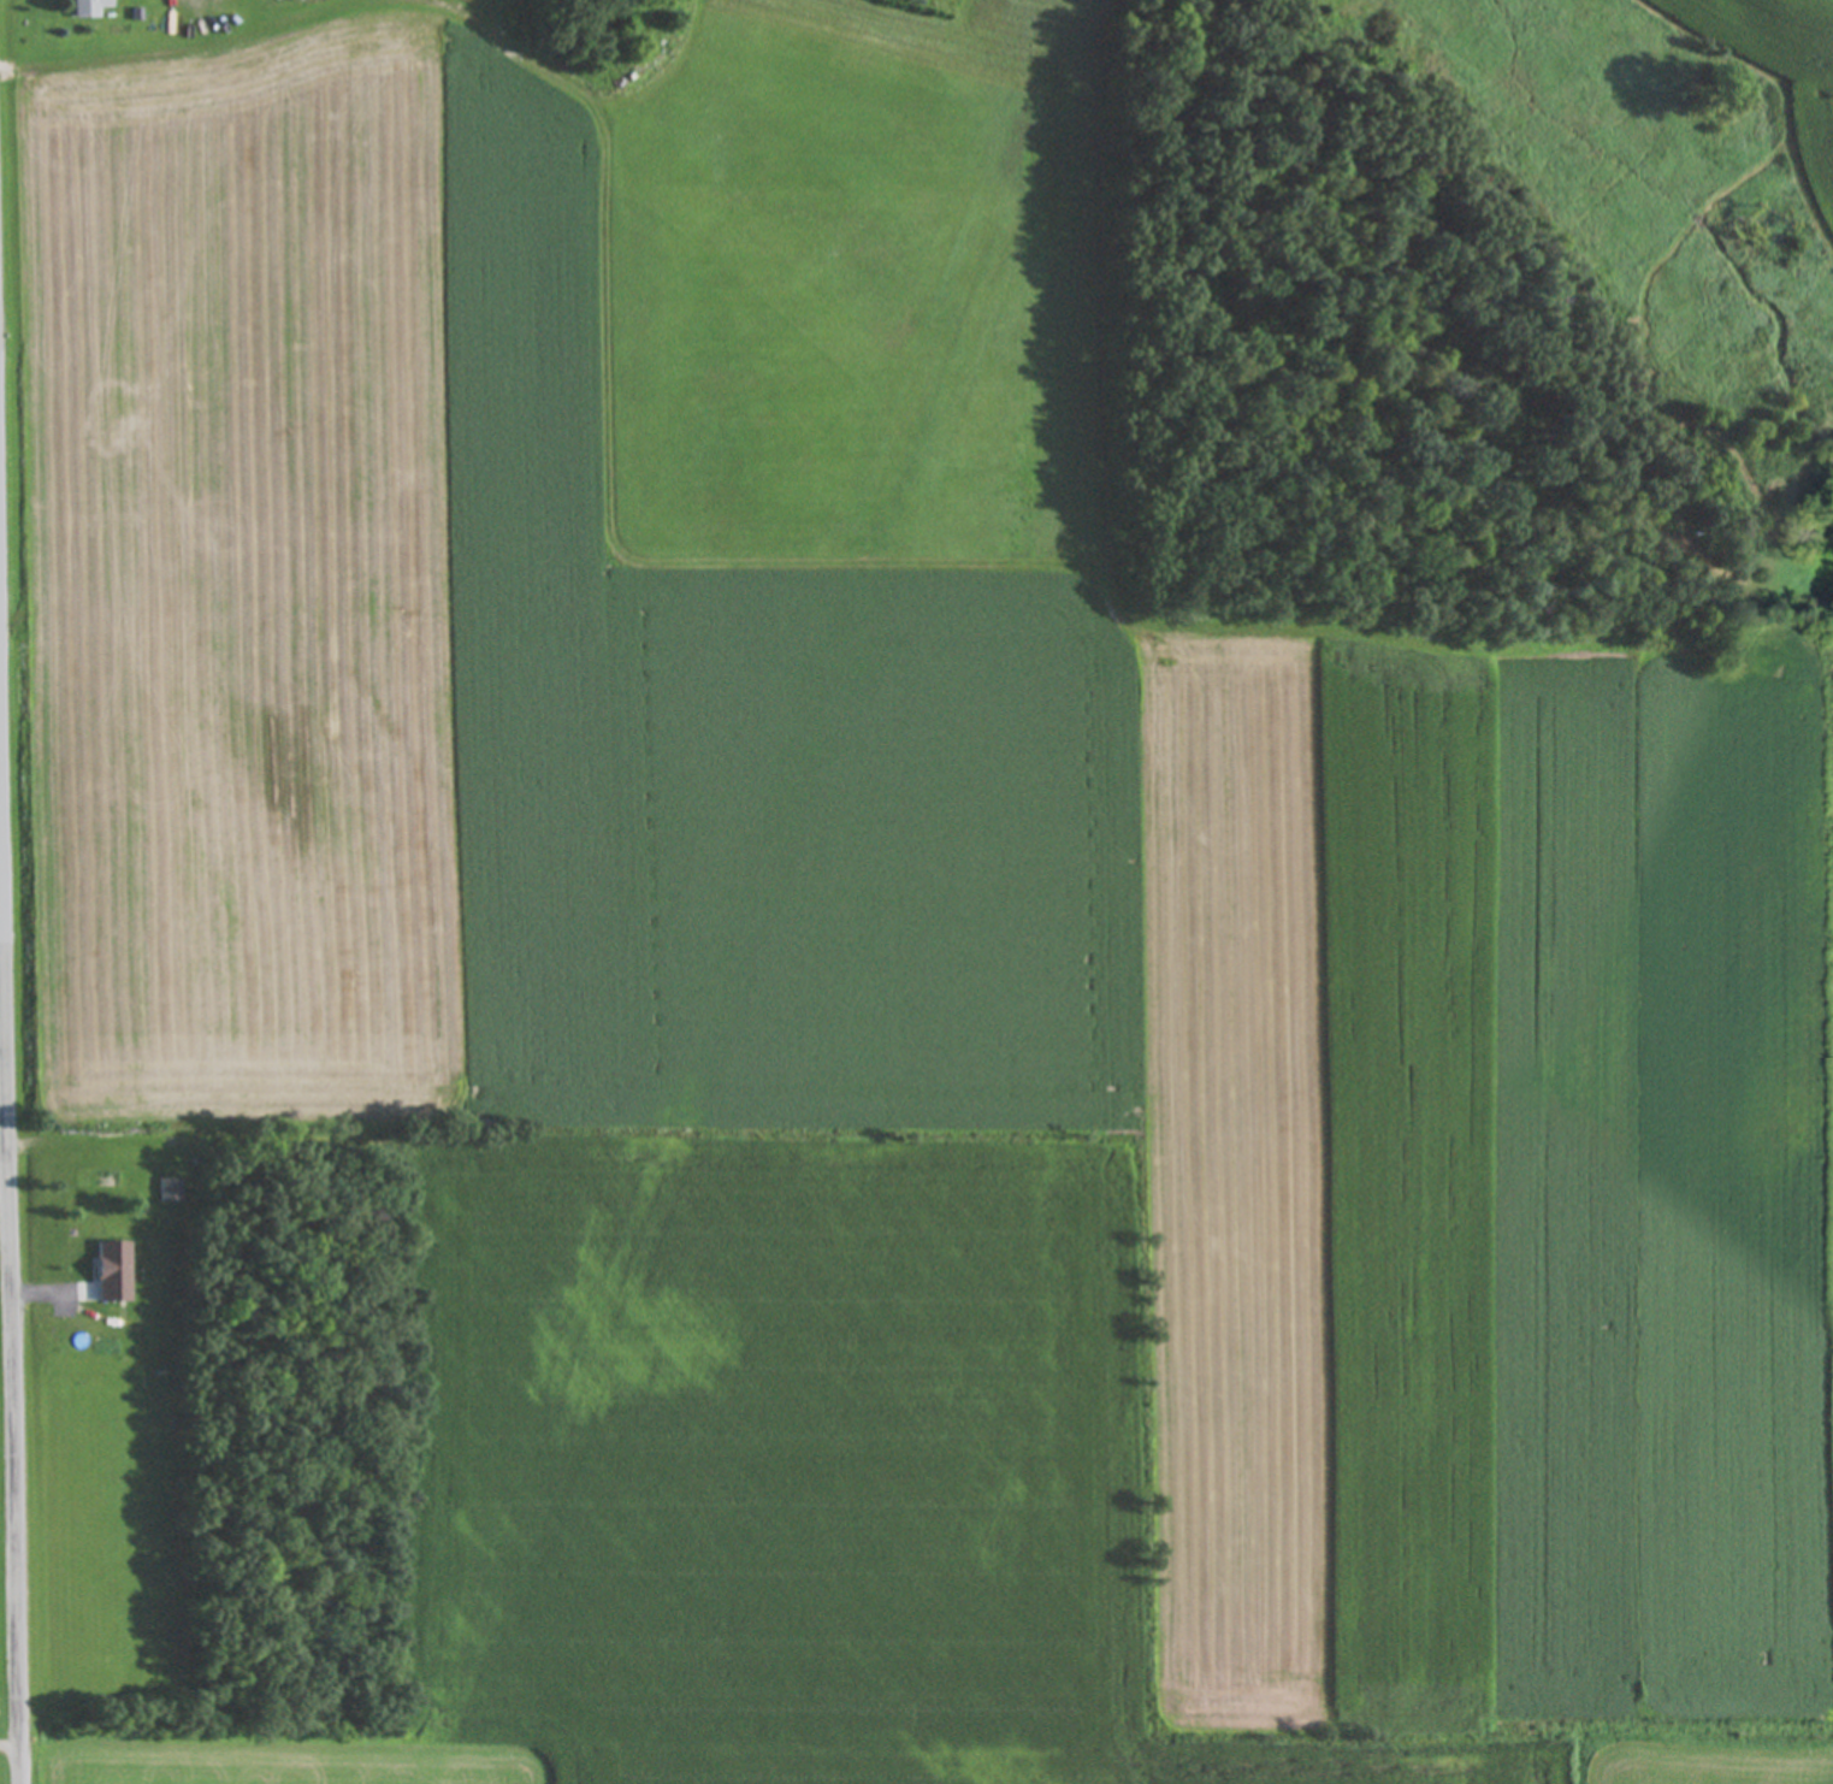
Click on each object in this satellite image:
building: (91, 8)
road: (0, 603)
road: (11, 1165)
building: (172, 1189)
building: (114, 1270)
road: (11, 1745)

